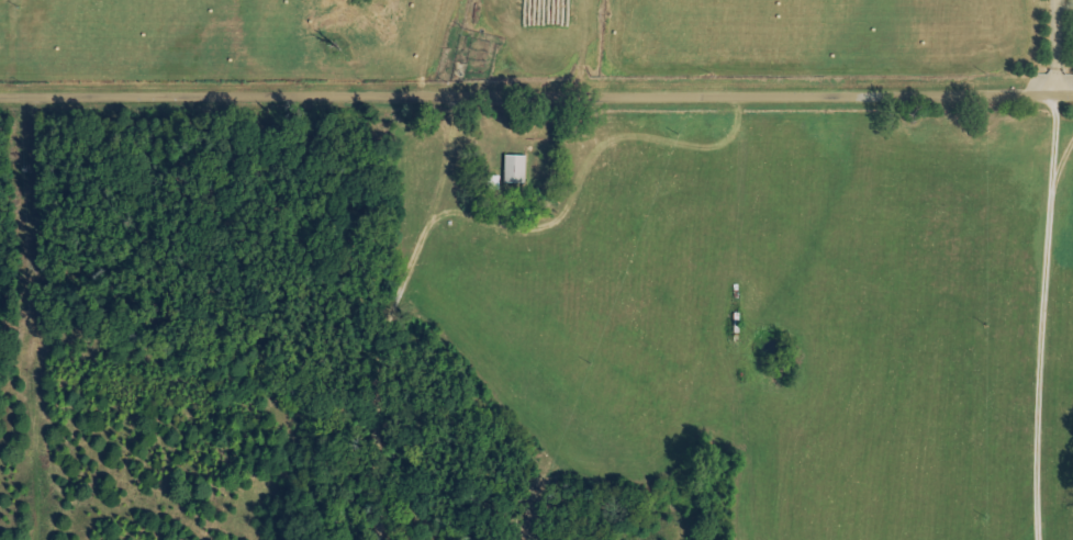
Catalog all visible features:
road: (1050, 48)
road: (536, 94)
building: (514, 169)
road: (1041, 317)

